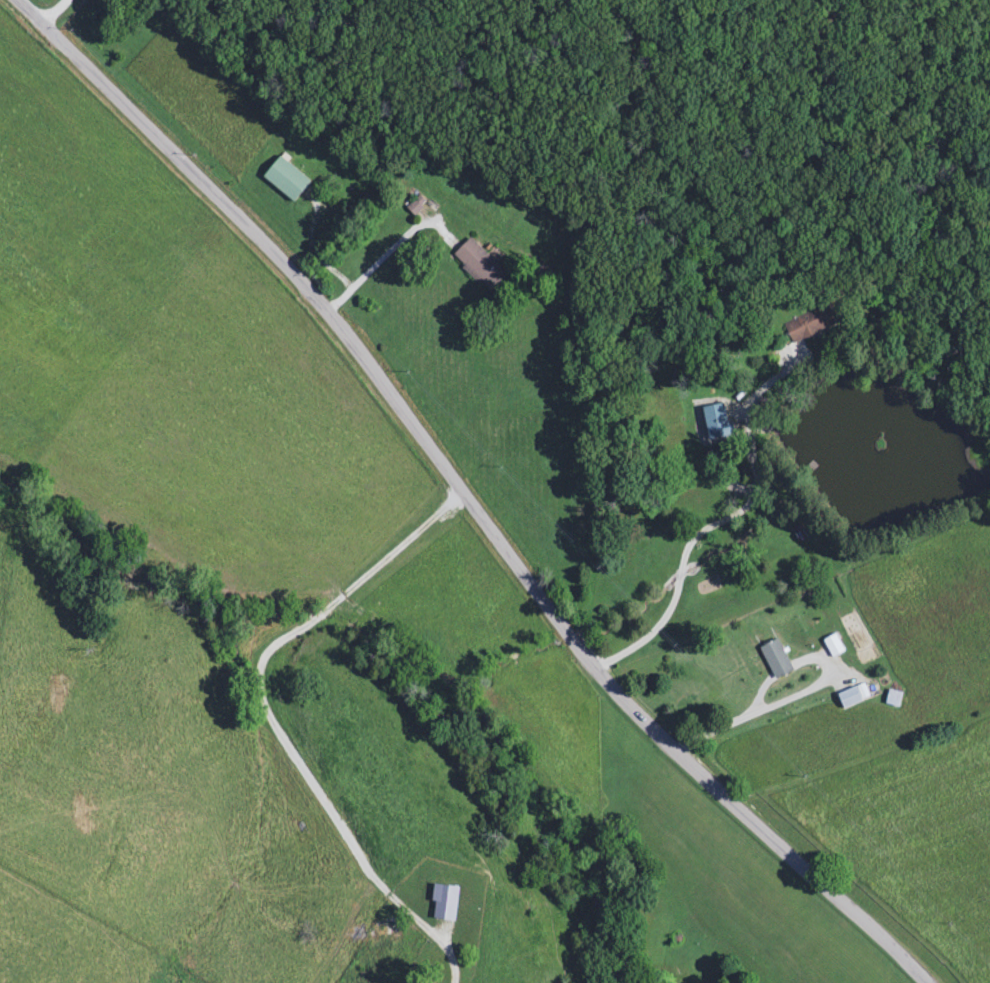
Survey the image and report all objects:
road: (60, 14)
building: (283, 180)
building: (414, 205)
road: (391, 256)
building: (477, 266)
building: (809, 324)
building: (715, 423)
road: (468, 496)
road: (721, 525)
building: (832, 646)
building: (774, 659)
building: (848, 698)
building: (892, 698)
road: (764, 714)
road: (276, 718)

